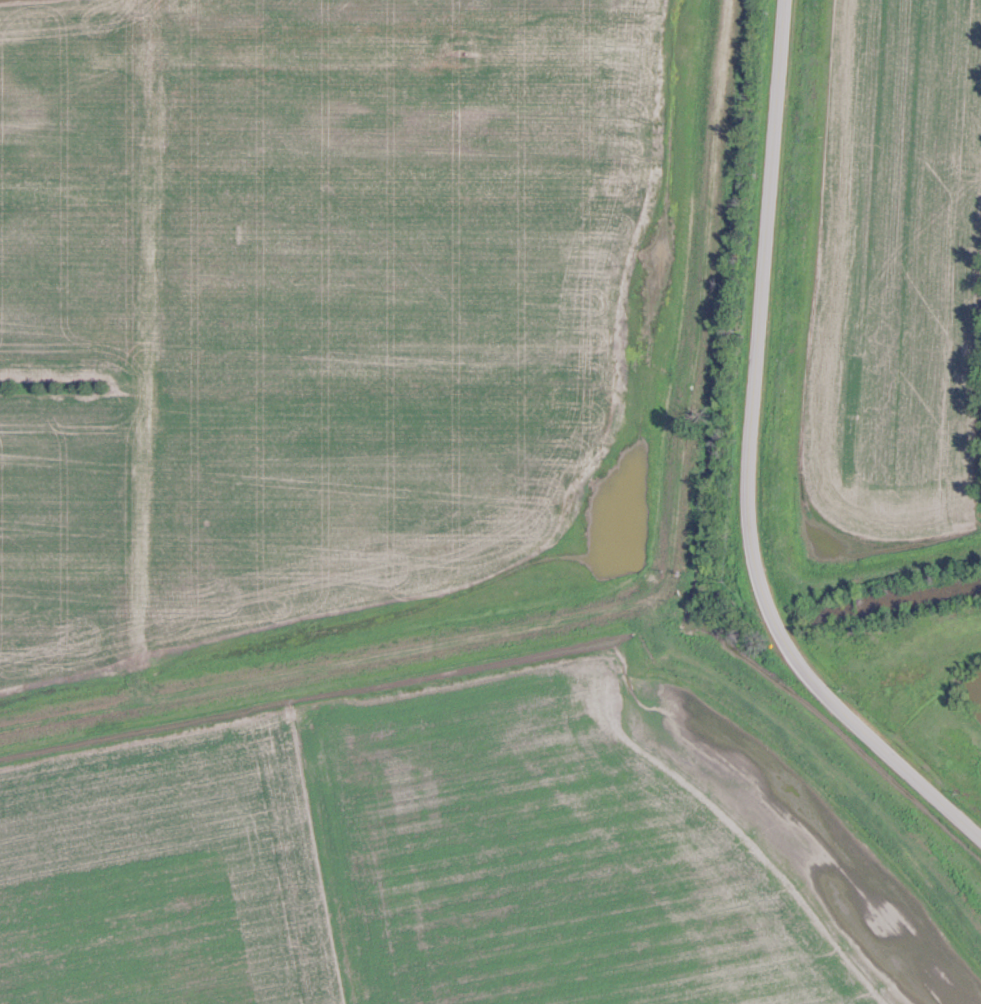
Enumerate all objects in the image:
road: (747, 462)

